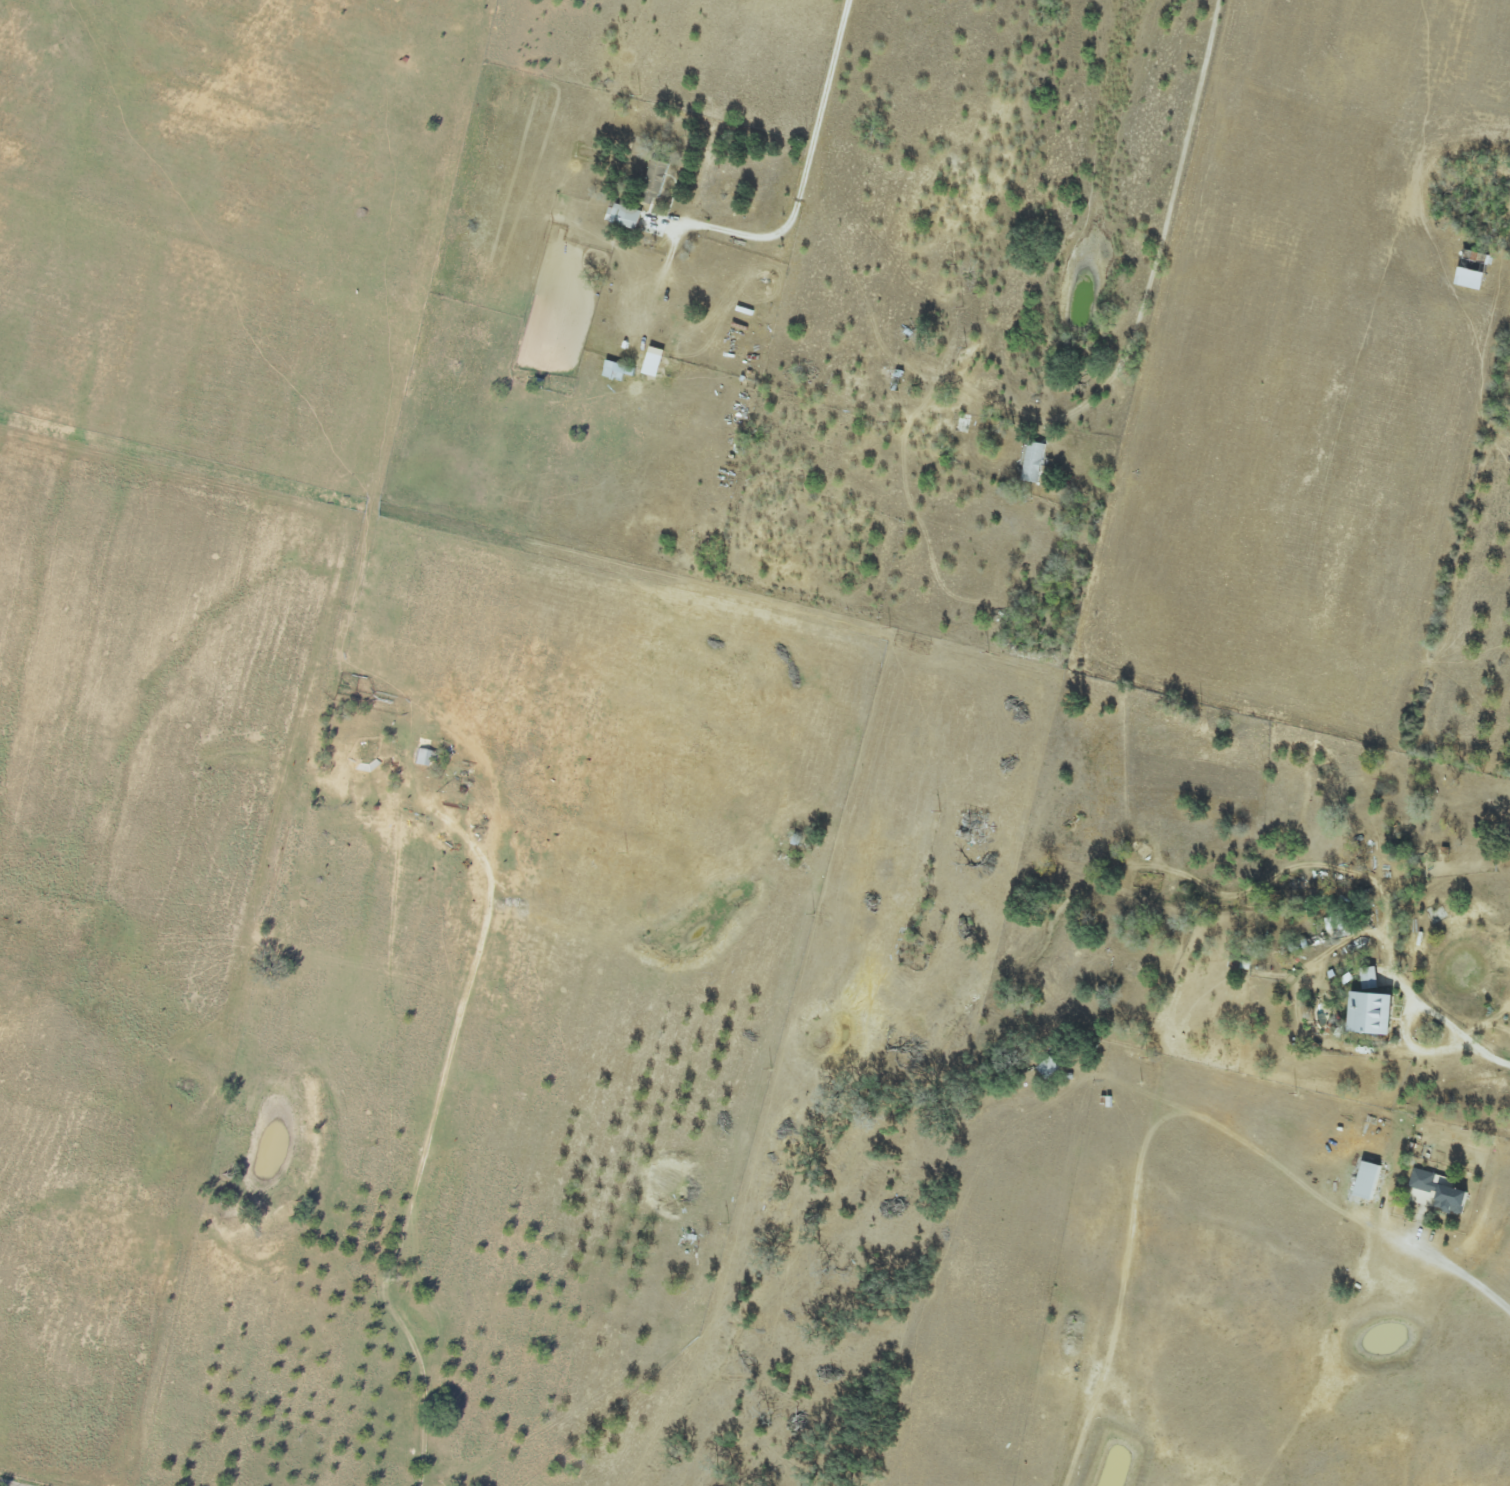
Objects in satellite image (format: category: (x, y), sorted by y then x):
road: (804, 168)
building: (626, 216)
building: (1473, 279)
building: (657, 362)
building: (620, 371)
building: (1035, 462)
building: (422, 756)
building: (1372, 979)
building: (1377, 1015)
road: (1461, 1029)
road: (424, 1146)
building: (1370, 1181)
building: (1440, 1193)
road: (1465, 1270)
road: (24, 1480)

